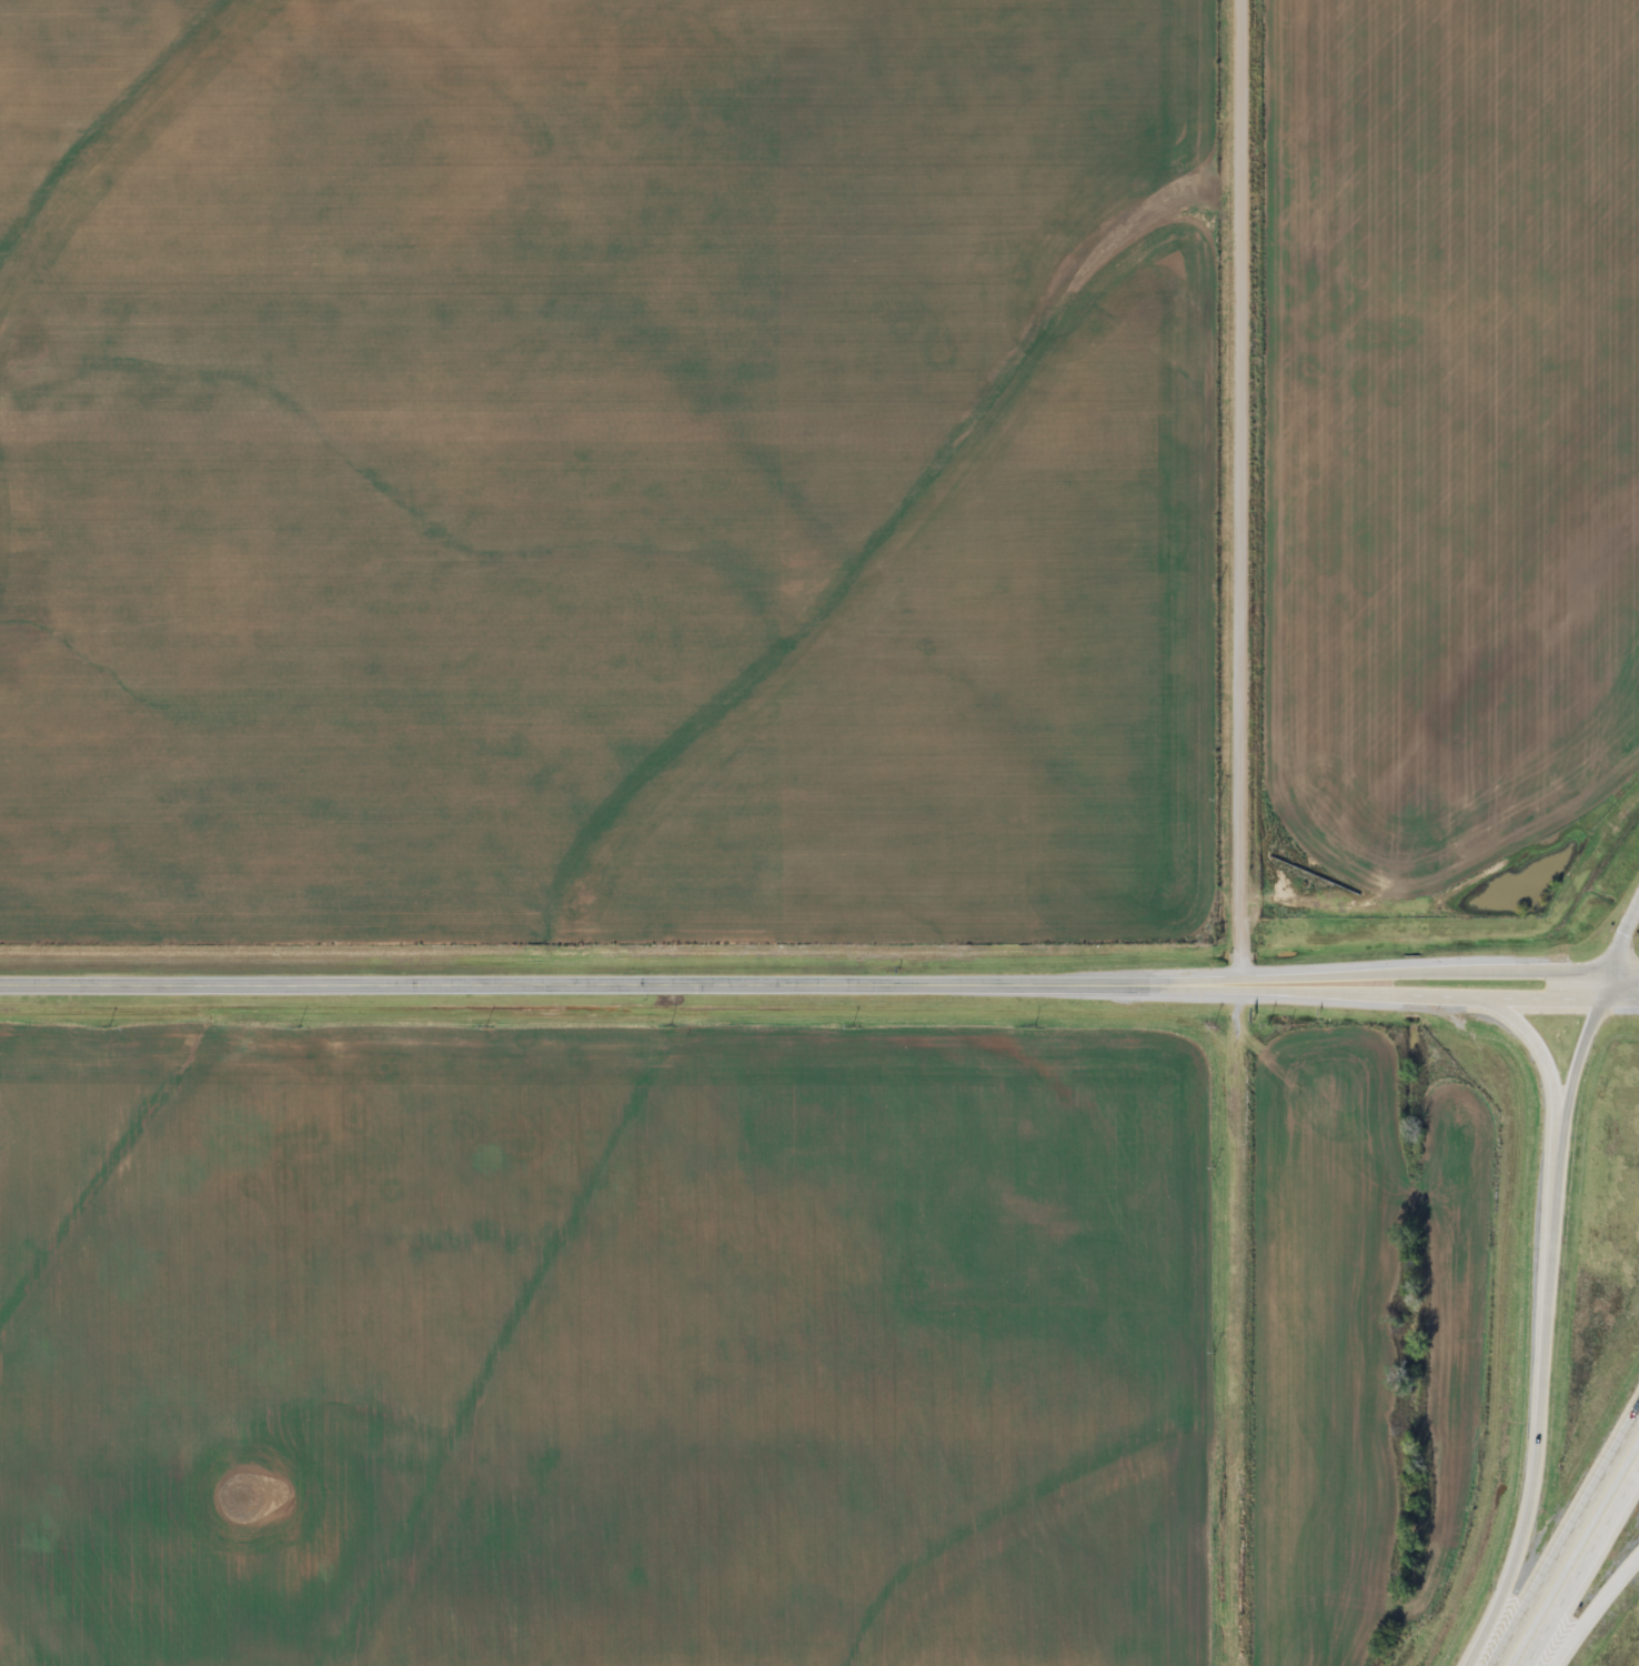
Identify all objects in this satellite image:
road: (1244, 488)
road: (1620, 935)
road: (1389, 972)
road: (1620, 972)
road: (1598, 985)
road: (589, 986)
road: (1385, 995)
road: (1616, 1000)
road: (1492, 1006)
road: (1539, 1046)
road: (1558, 1106)
road: (1546, 1324)
road: (1566, 1539)
road: (1581, 1565)
road: (1606, 1590)
road: (1560, 1648)
road: (1472, 1655)

